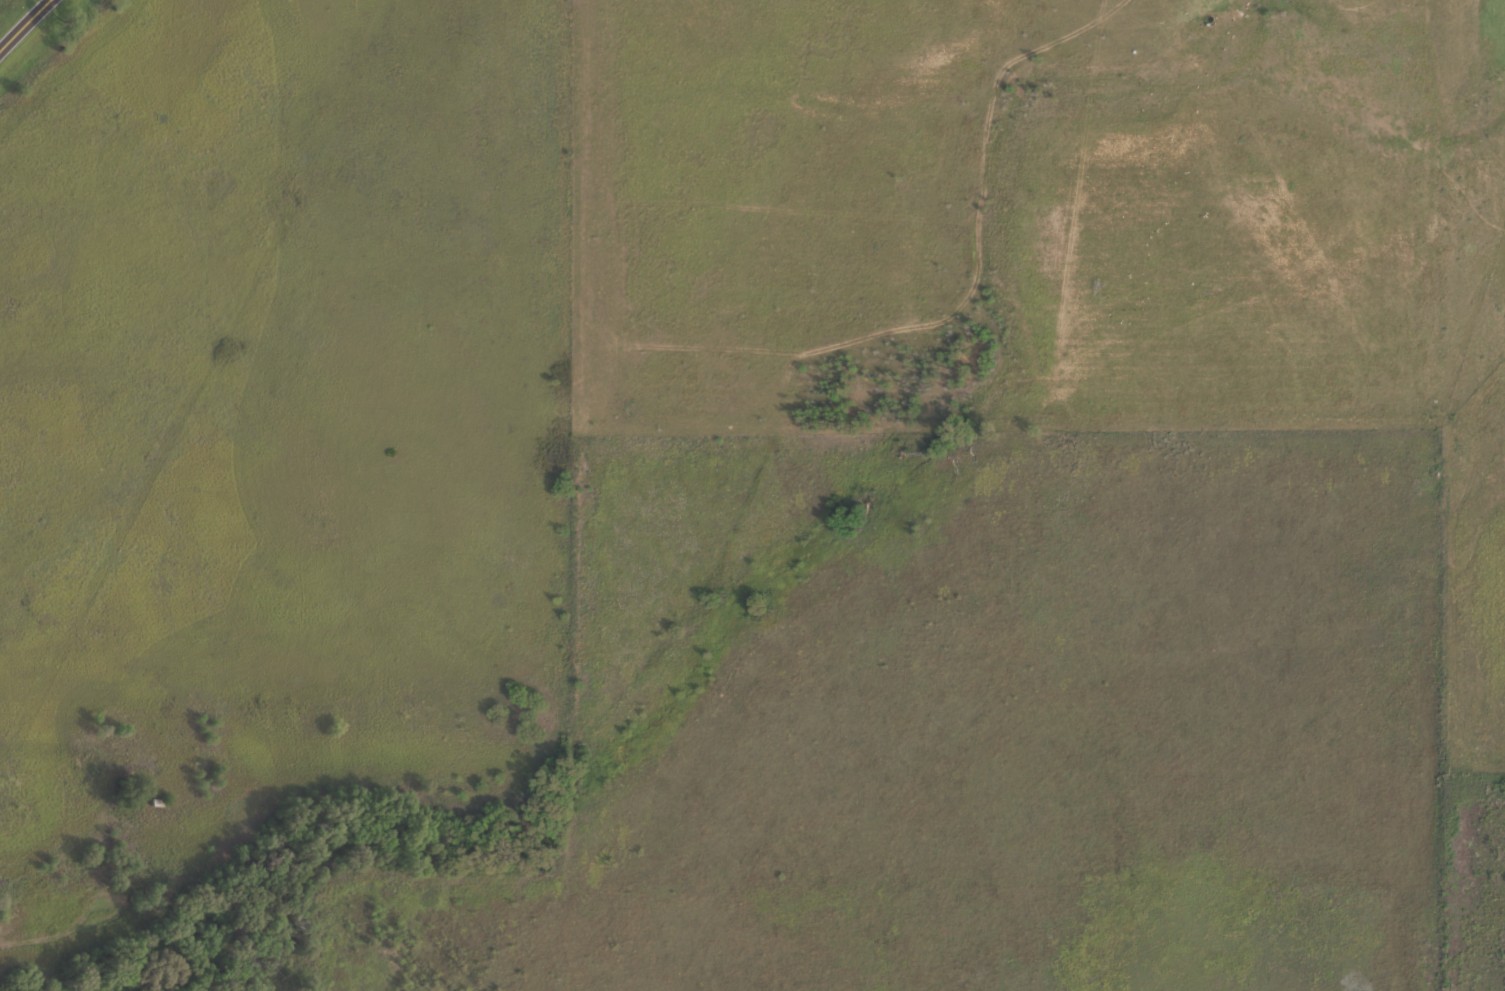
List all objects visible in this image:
road: (23, 24)
road: (62, 923)

